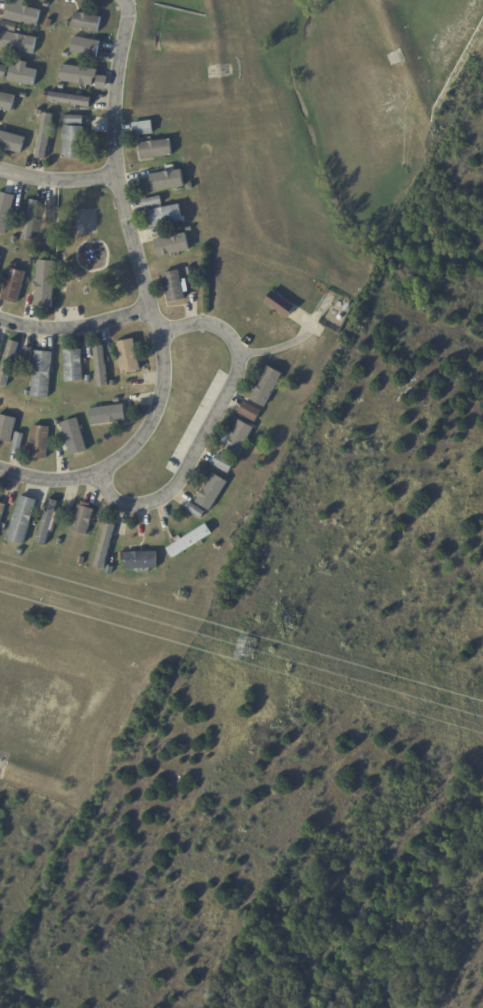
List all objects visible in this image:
building: (48, 5)
building: (24, 14)
building: (50, 23)
building: (87, 23)
building: (69, 25)
building: (10, 26)
building: (19, 43)
building: (86, 47)
building: (67, 55)
building: (4, 72)
building: (24, 76)
building: (83, 77)
building: (62, 87)
building: (46, 94)
building: (25, 95)
building: (71, 99)
building: (7, 102)
building: (0, 116)
building: (75, 121)
building: (145, 129)
building: (43, 135)
building: (12, 142)
building: (74, 144)
building: (156, 150)
road: (57, 179)
building: (169, 181)
building: (191, 188)
building: (154, 203)
building: (5, 211)
building: (53, 212)
building: (167, 216)
building: (30, 218)
building: (190, 229)
building: (14, 238)
building: (173, 246)
building: (1, 260)
building: (32, 262)
building: (192, 283)
building: (46, 284)
building: (14, 286)
building: (175, 286)
building: (66, 290)
building: (87, 293)
road: (147, 296)
building: (281, 304)
building: (346, 306)
road: (75, 326)
road: (286, 343)
building: (0, 347)
building: (129, 356)
building: (28, 358)
building: (8, 364)
building: (74, 366)
building: (101, 367)
building: (42, 375)
building: (88, 378)
building: (130, 382)
building: (113, 383)
building: (268, 386)
building: (27, 393)
building: (117, 400)
building: (0, 404)
building: (251, 411)
building: (108, 415)
parking lot: (196, 420)
road: (210, 420)
building: (64, 423)
building: (7, 429)
building: (76, 437)
building: (239, 438)
building: (41, 443)
building: (18, 444)
building: (225, 462)
building: (212, 491)
building: (69, 503)
building: (197, 510)
building: (2, 511)
building: (23, 519)
building: (83, 520)
building: (49, 522)
building: (190, 540)
building: (60, 541)
building: (14, 545)
building: (105, 546)
building: (218, 546)
building: (123, 556)
building: (82, 560)
building: (142, 560)
building: (110, 569)
power tower: (251, 647)

